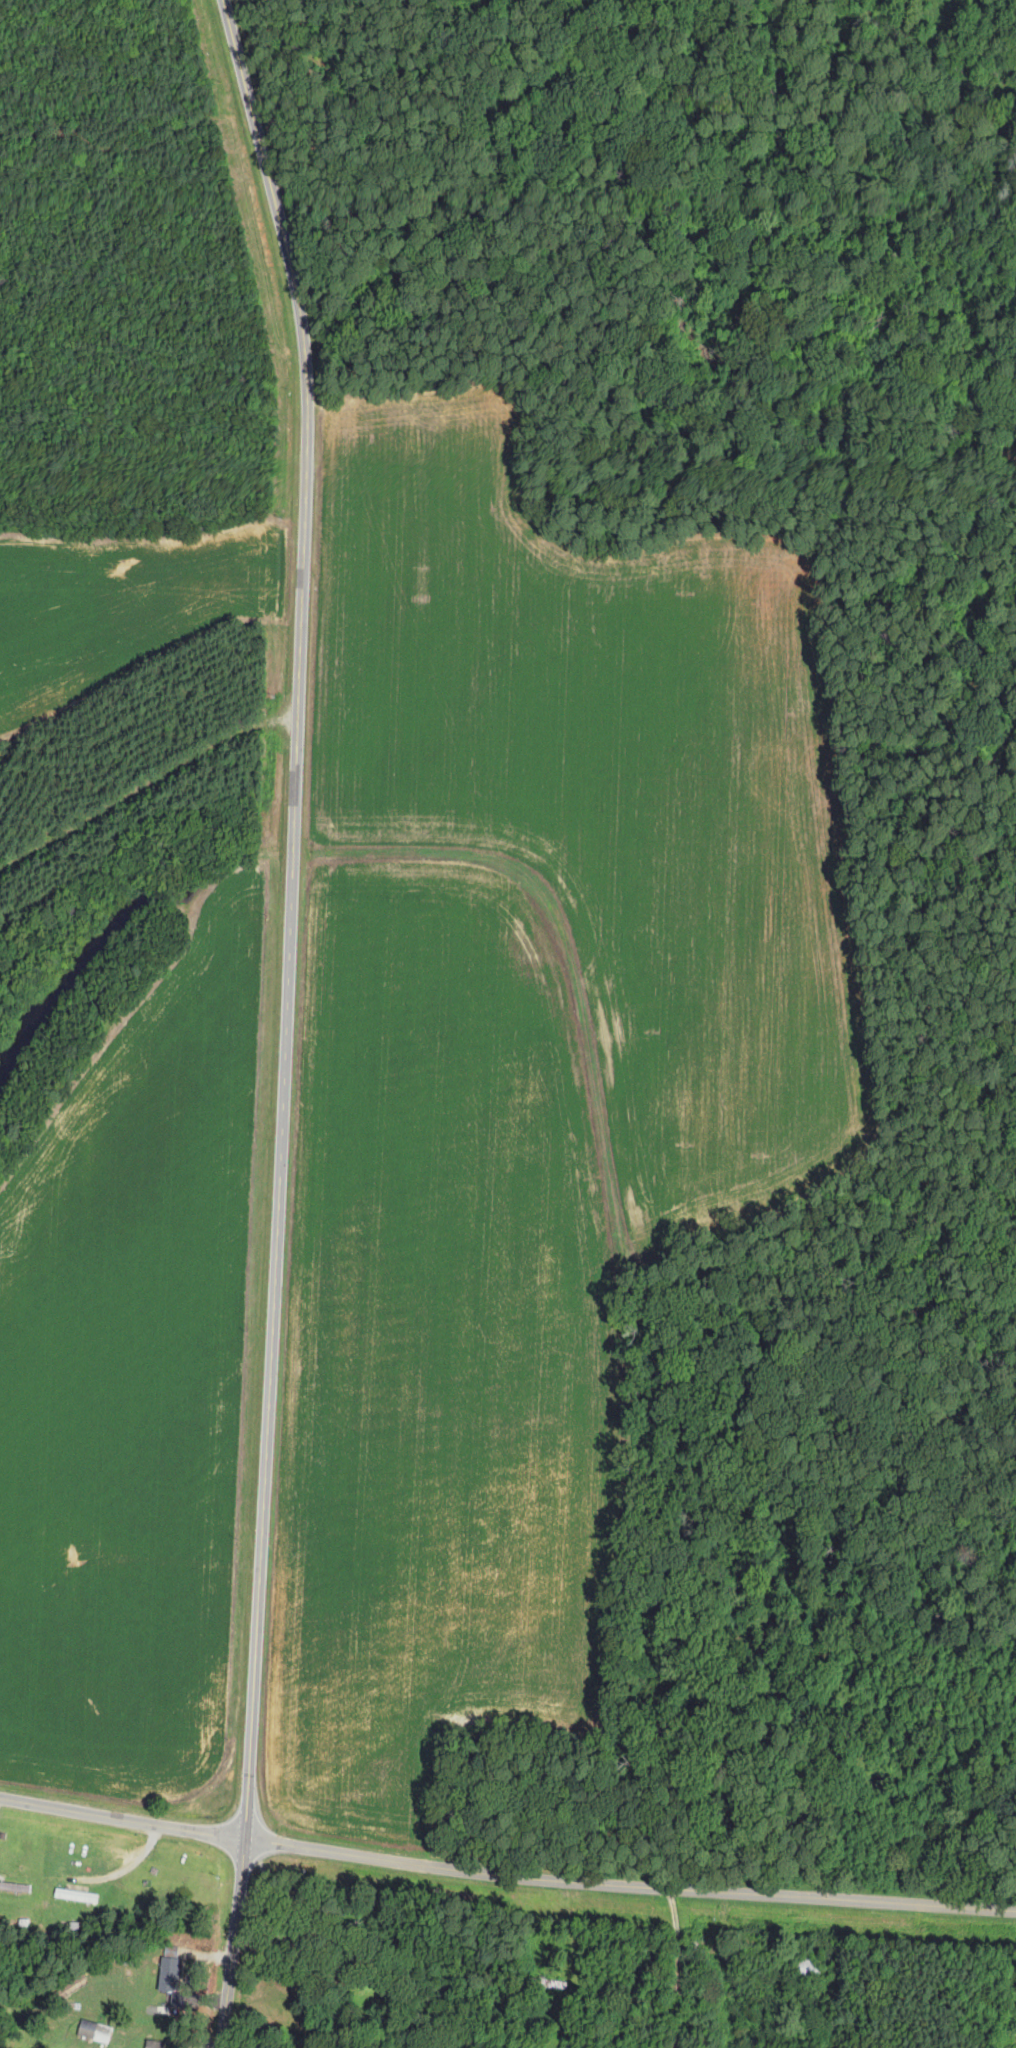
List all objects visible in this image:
road: (145, 782)
road: (296, 1021)
road: (504, 1888)
road: (680, 1972)
building: (169, 1973)
building: (95, 2031)
building: (154, 2044)

